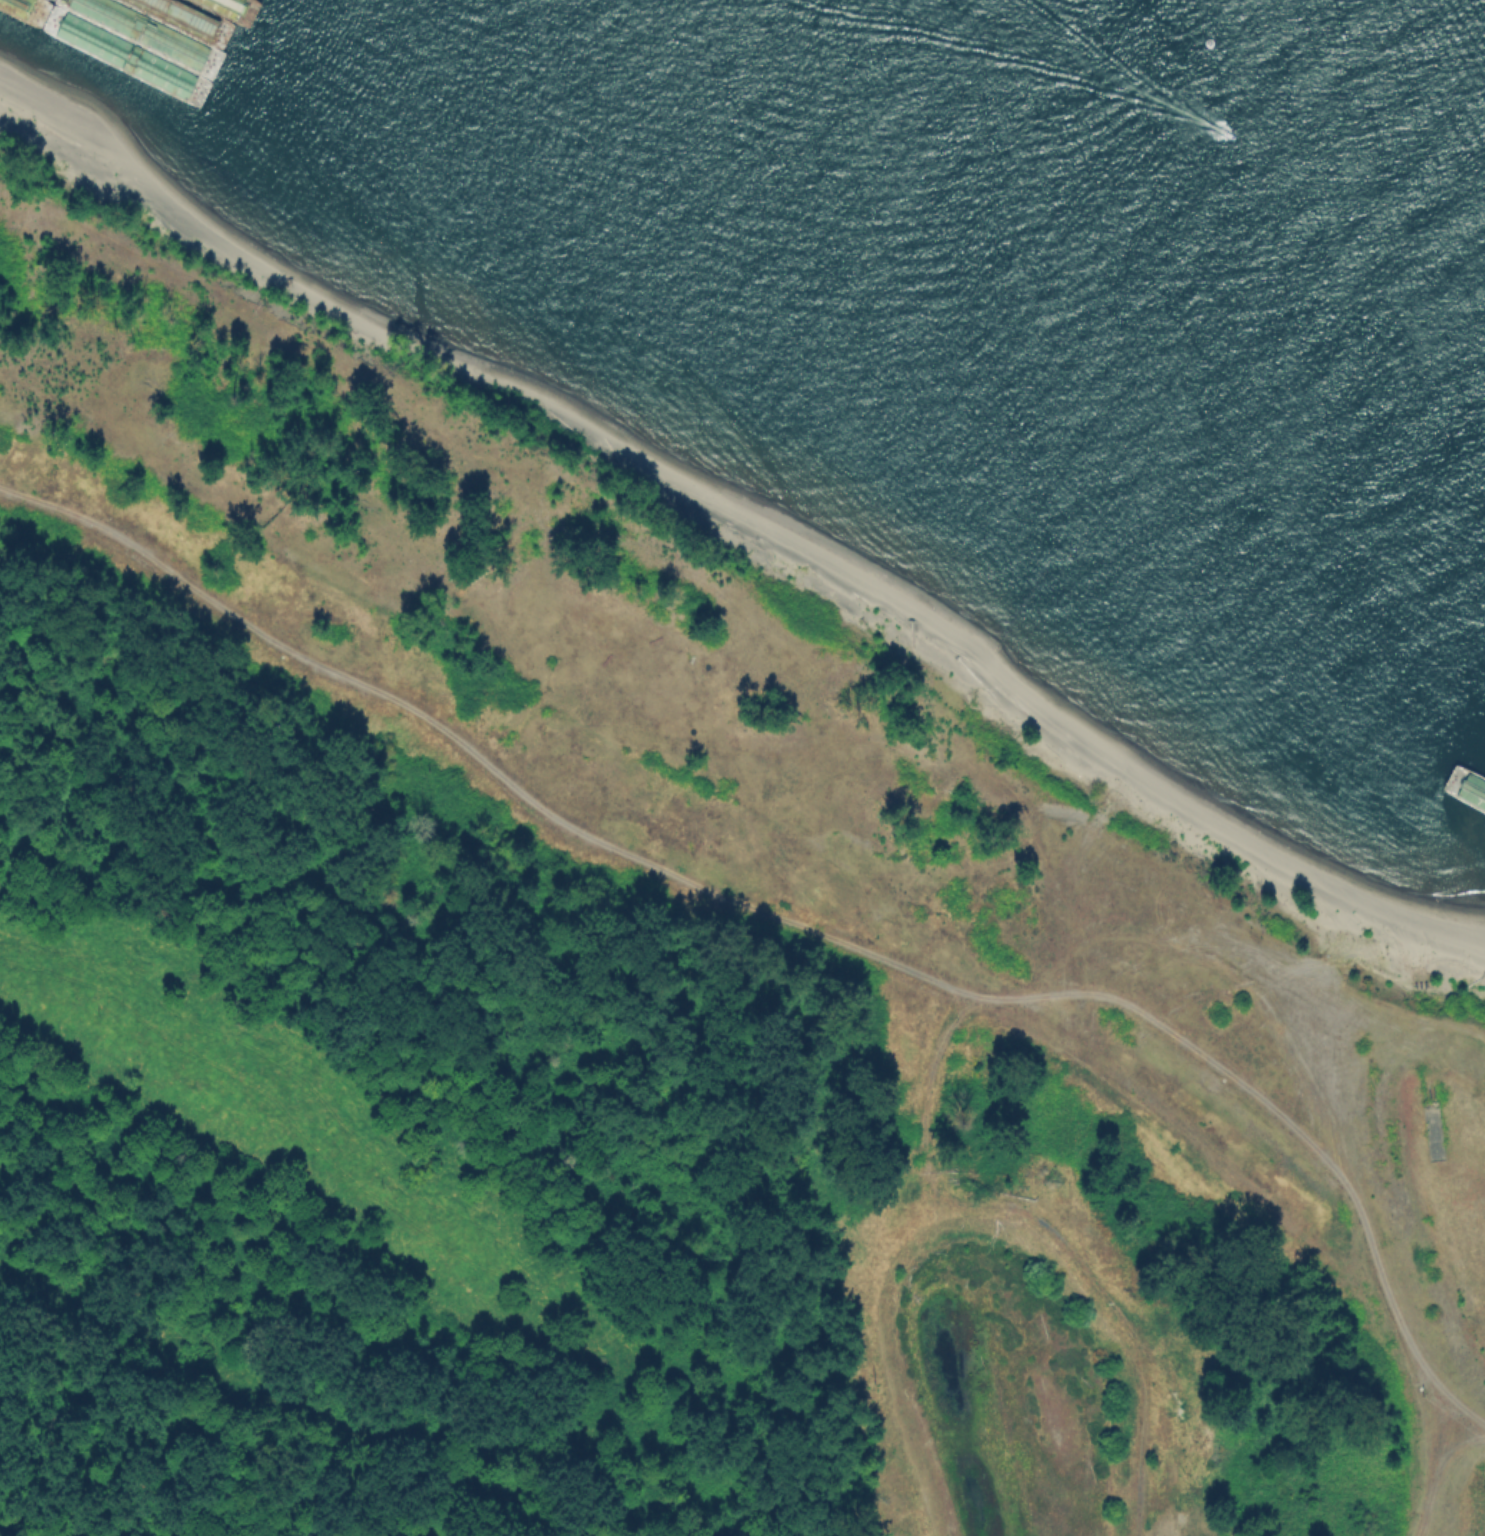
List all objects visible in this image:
river: (1307, 111)
building: (1483, 804)
road: (796, 928)

